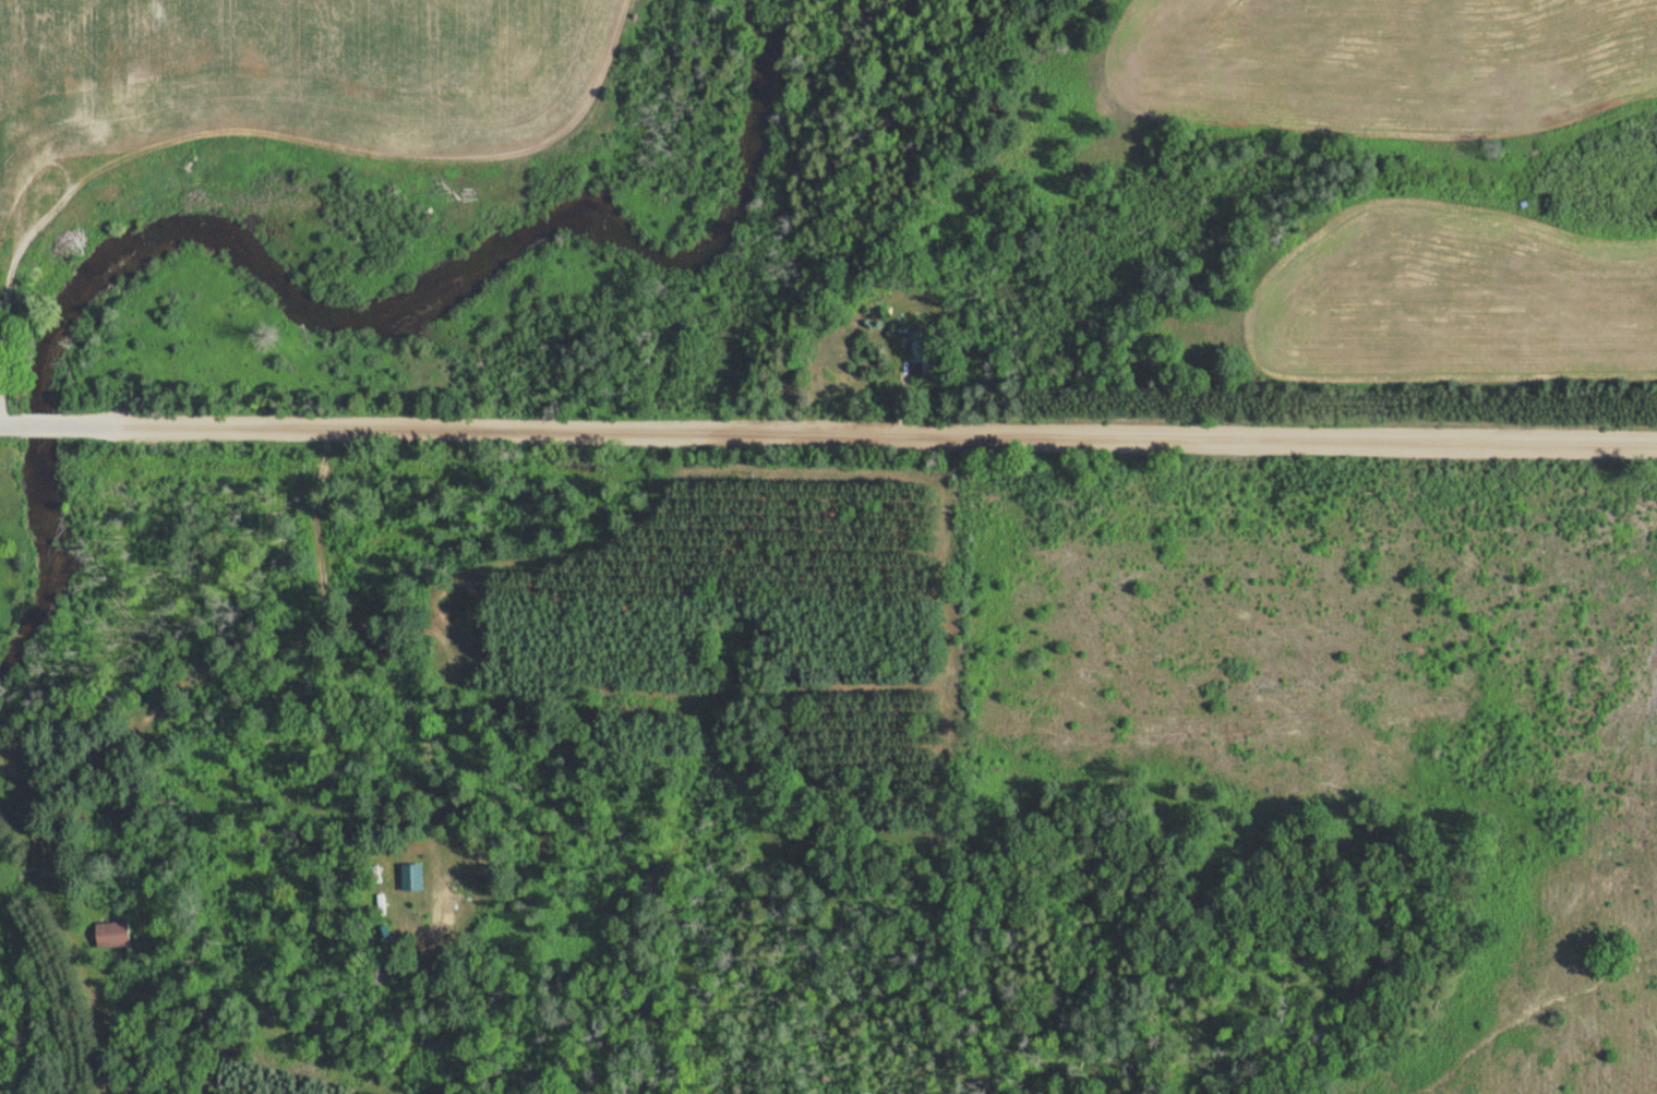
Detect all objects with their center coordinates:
building: (17, 127)
river: (321, 321)
road: (21, 426)
road: (849, 437)
building: (110, 933)
road: (748, 1020)

